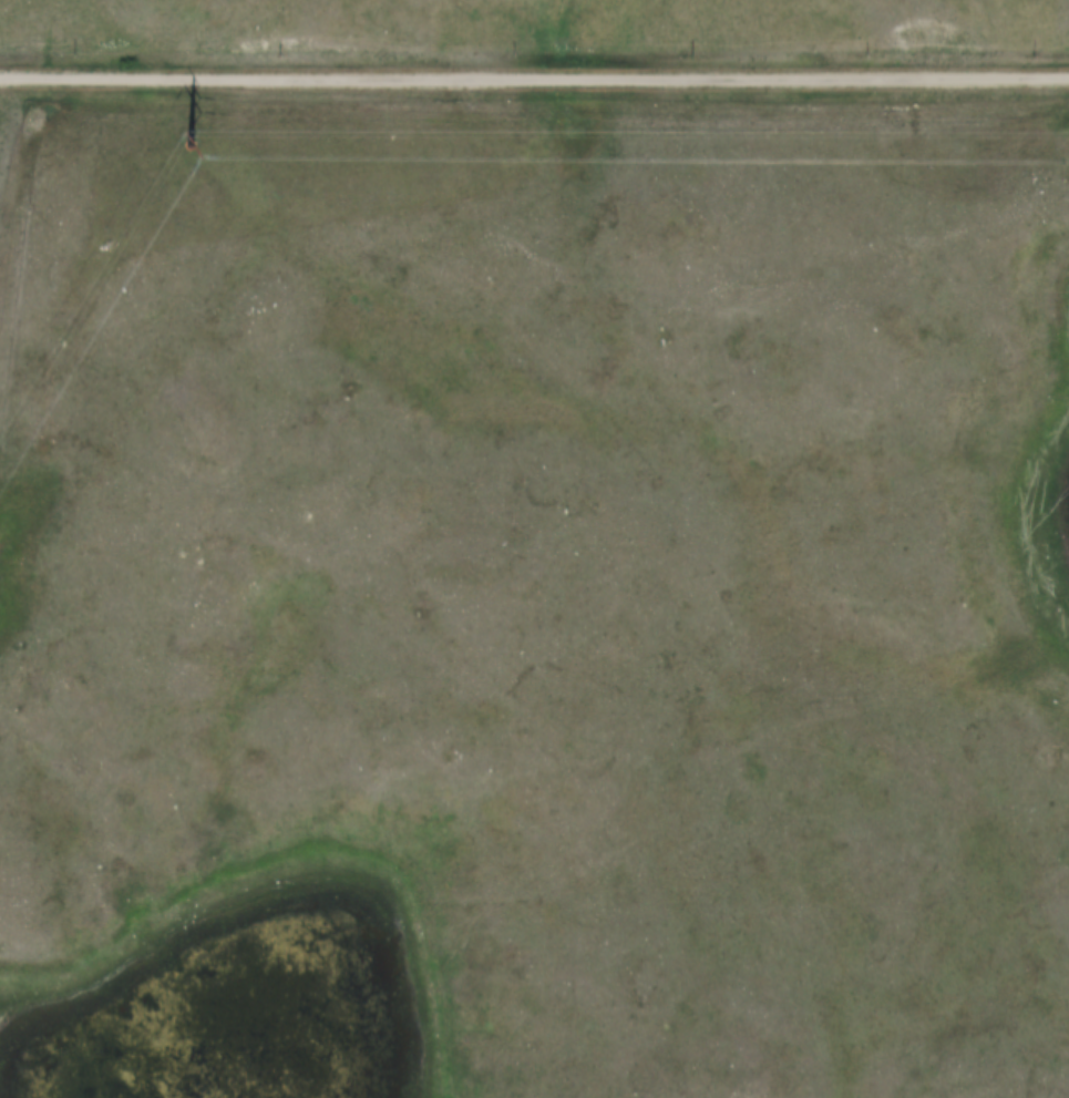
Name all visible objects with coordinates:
road: (534, 75)
power tower: (195, 132)

